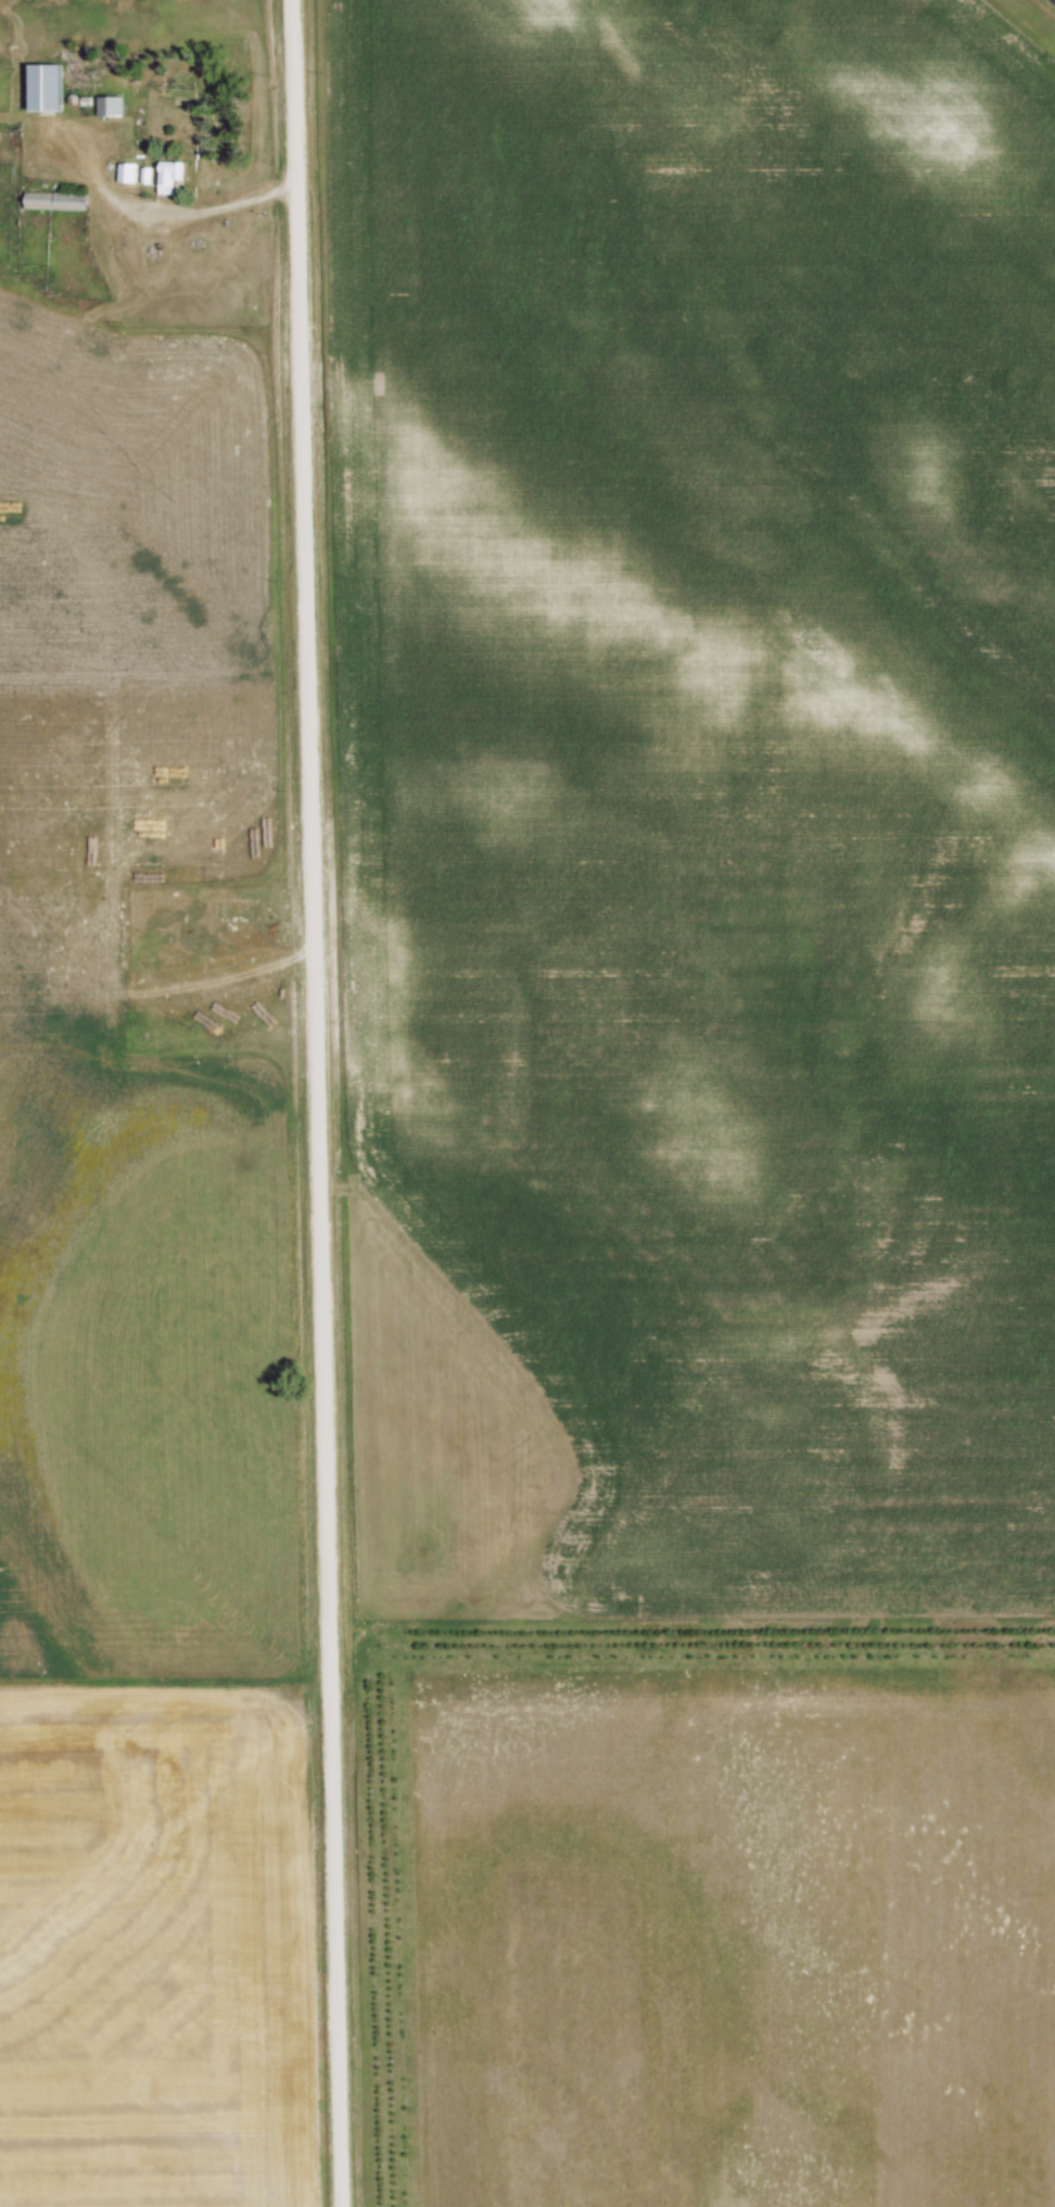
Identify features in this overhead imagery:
building: (51, 89)
building: (112, 107)
building: (127, 174)
building: (173, 177)
road: (230, 201)
building: (59, 202)
road: (320, 1103)

